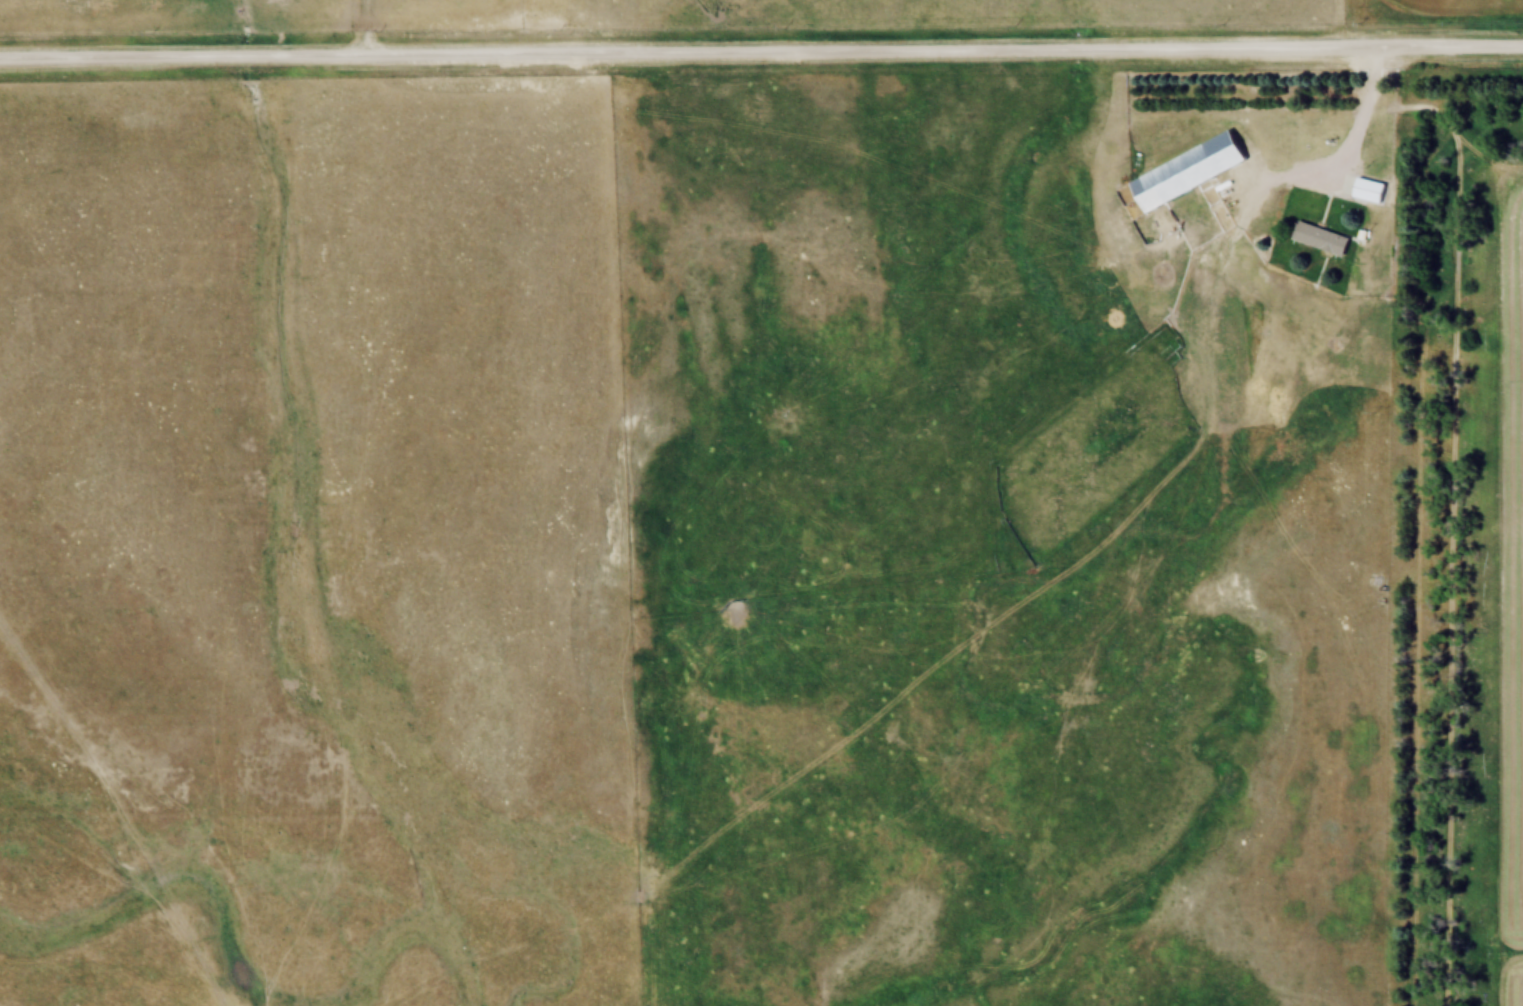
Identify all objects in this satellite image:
road: (761, 57)
building: (1191, 172)
building: (1371, 190)
building: (1321, 239)

